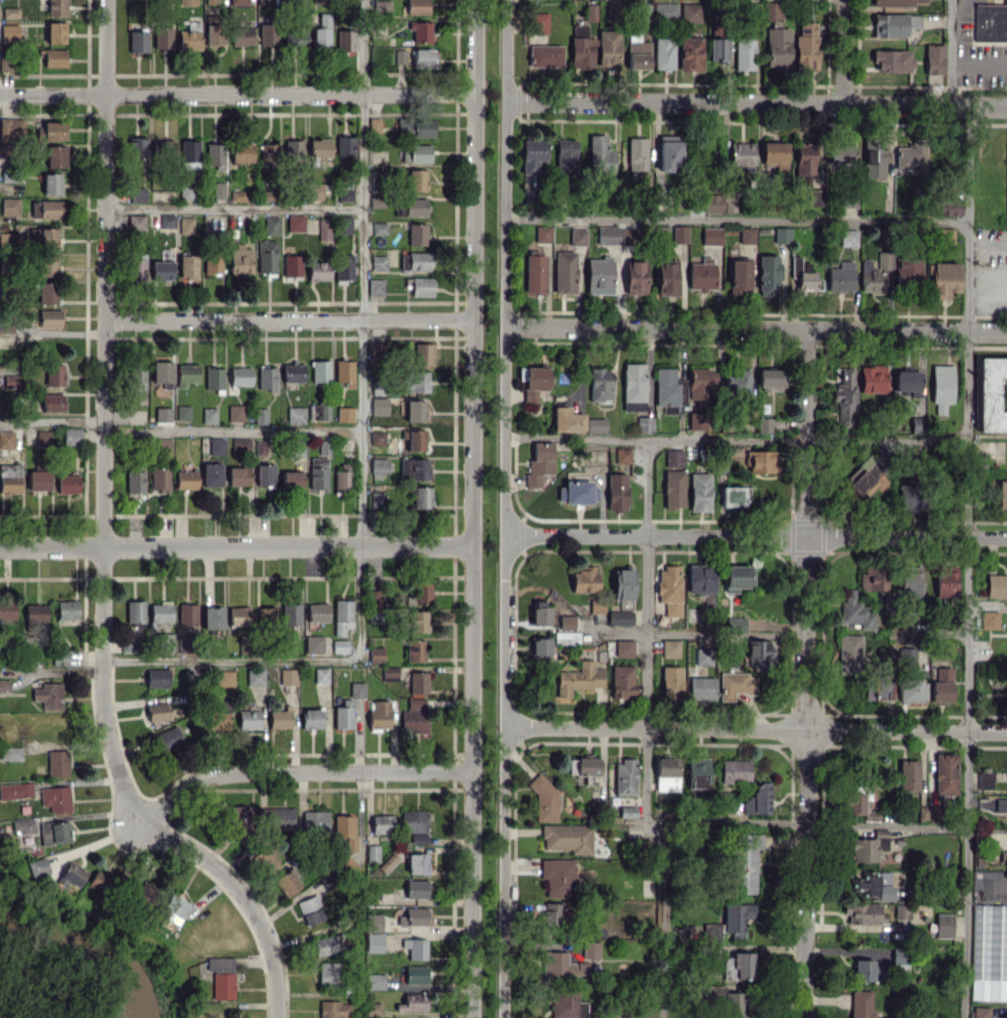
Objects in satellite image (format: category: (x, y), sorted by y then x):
building: (211, 1)
building: (188, 2)
building: (238, 2)
building: (265, 2)
building: (896, 2)
road: (961, 6)
building: (57, 7)
building: (382, 7)
building: (416, 7)
building: (665, 9)
building: (615, 11)
building: (690, 11)
building: (772, 11)
building: (11, 12)
building: (590, 12)
building: (539, 22)
building: (990, 22)
building: (894, 24)
building: (214, 30)
building: (421, 31)
building: (9, 32)
building: (56, 32)
building: (322, 32)
building: (268, 34)
building: (190, 36)
building: (243, 36)
building: (162, 37)
building: (294, 37)
building: (346, 40)
building: (138, 41)
building: (805, 44)
road: (362, 46)
road: (475, 47)
building: (581, 47)
building: (608, 48)
building: (718, 48)
building: (777, 48)
road: (505, 50)
road: (843, 51)
building: (637, 52)
building: (744, 52)
road: (952, 52)
building: (663, 53)
building: (690, 53)
building: (545, 55)
building: (399, 56)
building: (54, 57)
building: (423, 58)
building: (933, 59)
building: (892, 60)
building: (6, 63)
road: (979, 64)
road: (180, 92)
road: (418, 93)
road: (756, 102)
building: (415, 127)
building: (12, 129)
building: (50, 131)
building: (345, 146)
building: (138, 147)
building: (162, 148)
building: (319, 148)
building: (293, 149)
building: (6, 150)
building: (242, 152)
building: (669, 152)
building: (417, 153)
building: (636, 153)
building: (840, 153)
building: (215, 154)
building: (269, 154)
building: (773, 154)
building: (531, 155)
building: (565, 155)
building: (599, 155)
building: (55, 156)
building: (741, 156)
building: (911, 157)
building: (804, 158)
building: (873, 158)
building: (378, 178)
building: (417, 180)
building: (52, 183)
building: (217, 190)
building: (186, 191)
building: (315, 191)
building: (138, 194)
building: (345, 195)
building: (238, 196)
building: (816, 197)
building: (711, 203)
building: (10, 206)
road: (472, 206)
building: (410, 207)
building: (46, 209)
road: (233, 209)
building: (948, 210)
road: (505, 213)
road: (736, 220)
building: (167, 221)
building: (136, 222)
building: (295, 222)
building: (343, 224)
building: (186, 225)
building: (271, 225)
building: (379, 228)
building: (324, 229)
building: (417, 233)
building: (543, 234)
building: (680, 234)
building: (781, 234)
building: (607, 235)
building: (711, 235)
building: (746, 235)
building: (943, 235)
building: (578, 236)
building: (630, 236)
building: (848, 237)
building: (48, 238)
building: (8, 239)
building: (266, 256)
building: (240, 260)
building: (415, 261)
building: (378, 262)
building: (212, 263)
building: (48, 265)
building: (292, 265)
building: (139, 266)
building: (188, 266)
building: (344, 268)
building: (162, 270)
building: (318, 270)
building: (564, 272)
building: (907, 272)
building: (535, 273)
building: (874, 273)
building: (701, 274)
building: (599, 275)
building: (768, 275)
building: (802, 275)
building: (840, 276)
building: (635, 277)
building: (738, 277)
building: (666, 278)
building: (942, 279)
road: (987, 279)
building: (420, 285)
building: (375, 286)
building: (47, 292)
building: (49, 318)
road: (286, 319)
road: (755, 327)
building: (378, 351)
building: (423, 353)
road: (361, 369)
building: (162, 371)
building: (320, 371)
building: (293, 372)
building: (344, 373)
building: (54, 374)
building: (187, 374)
building: (240, 376)
building: (266, 377)
building: (214, 378)
building: (872, 378)
building: (769, 379)
building: (11, 381)
building: (139, 381)
building: (416, 381)
building: (737, 381)
building: (907, 381)
building: (533, 382)
building: (600, 384)
building: (700, 384)
building: (633, 386)
building: (941, 386)
building: (669, 390)
building: (990, 394)
building: (845, 398)
building: (52, 402)
building: (379, 406)
building: (415, 410)
building: (322, 411)
building: (183, 412)
building: (236, 412)
building: (345, 414)
building: (209, 415)
building: (260, 415)
building: (295, 415)
building: (567, 419)
road: (52, 420)
building: (696, 420)
building: (596, 424)
building: (645, 424)
building: (764, 424)
road: (232, 429)
road: (471, 431)
road: (504, 431)
building: (71, 436)
building: (42, 437)
building: (377, 438)
road: (735, 438)
building: (6, 439)
building: (414, 439)
building: (217, 446)
building: (324, 446)
building: (260, 447)
building: (622, 455)
building: (735, 455)
building: (674, 457)
building: (760, 461)
building: (539, 463)
building: (595, 463)
building: (379, 467)
building: (414, 468)
building: (318, 472)
building: (211, 474)
building: (265, 474)
building: (238, 475)
building: (864, 476)
building: (10, 478)
building: (159, 478)
building: (342, 478)
building: (185, 479)
building: (38, 480)
building: (135, 481)
building: (291, 481)
building: (68, 483)
building: (673, 488)
building: (617, 491)
building: (576, 492)
building: (699, 492)
building: (1002, 493)
building: (732, 496)
building: (422, 497)
building: (911, 497)
building: (376, 499)
road: (755, 536)
road: (104, 541)
road: (236, 546)
road: (967, 562)
building: (737, 577)
building: (701, 578)
building: (868, 578)
building: (881, 578)
building: (584, 579)
building: (910, 580)
building: (945, 580)
building: (623, 584)
building: (996, 585)
building: (670, 588)
building: (420, 592)
building: (375, 597)
building: (596, 605)
building: (66, 609)
building: (7, 610)
building: (135, 611)
building: (855, 611)
building: (160, 612)
building: (317, 612)
building: (539, 612)
building: (35, 613)
building: (186, 614)
building: (238, 615)
building: (265, 615)
building: (291, 616)
building: (342, 616)
building: (620, 617)
building: (212, 618)
building: (989, 619)
building: (418, 621)
building: (567, 622)
building: (736, 623)
road: (504, 631)
road: (726, 633)
building: (566, 637)
building: (166, 641)
building: (128, 644)
building: (183, 644)
building: (314, 644)
building: (339, 645)
building: (624, 647)
building: (540, 648)
building: (670, 648)
building: (414, 650)
building: (757, 653)
building: (850, 653)
building: (376, 654)
road: (471, 656)
building: (703, 656)
building: (59, 657)
road: (235, 658)
building: (390, 673)
road: (807, 673)
building: (321, 675)
building: (255, 676)
building: (288, 676)
building: (157, 677)
building: (225, 678)
building: (579, 678)
building: (622, 681)
building: (671, 681)
building: (418, 682)
building: (941, 684)
building: (4, 685)
building: (736, 685)
building: (876, 686)
building: (701, 687)
building: (357, 689)
building: (910, 689)
building: (48, 694)
building: (157, 711)
building: (219, 714)
building: (344, 714)
building: (379, 715)
building: (414, 715)
building: (311, 718)
building: (248, 719)
building: (278, 719)
road: (755, 728)
road: (644, 730)
building: (166, 739)
building: (11, 753)
building: (57, 762)
building: (583, 768)
building: (735, 770)
road: (300, 771)
building: (697, 772)
building: (946, 773)
building: (666, 774)
building: (908, 775)
building: (625, 777)
building: (985, 780)
building: (16, 790)
building: (56, 798)
building: (757, 799)
building: (544, 800)
building: (861, 804)
building: (997, 804)
building: (627, 811)
building: (927, 813)
building: (276, 817)
building: (314, 820)
building: (240, 822)
building: (382, 823)
building: (343, 825)
building: (415, 825)
building: (23, 826)
road: (808, 827)
building: (54, 832)
building: (567, 837)
road: (97, 839)
building: (748, 840)
building: (863, 850)
building: (372, 853)
building: (265, 858)
building: (417, 863)
building: (36, 865)
building: (744, 869)
road: (503, 872)
building: (73, 874)
building: (557, 878)
building: (328, 879)
road: (997, 880)
building: (99, 882)
building: (286, 883)
building: (877, 885)
building: (416, 889)
road: (470, 894)
building: (173, 908)
building: (310, 909)
building: (902, 911)
building: (863, 912)
building: (413, 916)
building: (549, 916)
building: (373, 920)
building: (729, 921)
building: (943, 925)
building: (374, 942)
building: (328, 944)
building: (415, 948)
building: (590, 949)
building: (988, 951)
river: (87, 953)
building: (561, 966)
building: (738, 966)
building: (867, 970)
building: (328, 973)
building: (415, 974)
building: (221, 976)
building: (374, 981)
building: (412, 1002)
building: (567, 1003)
building: (735, 1004)
building: (861, 1004)
building: (334, 1009)
building: (374, 1009)
building: (644, 1012)
building: (980, 1012)

